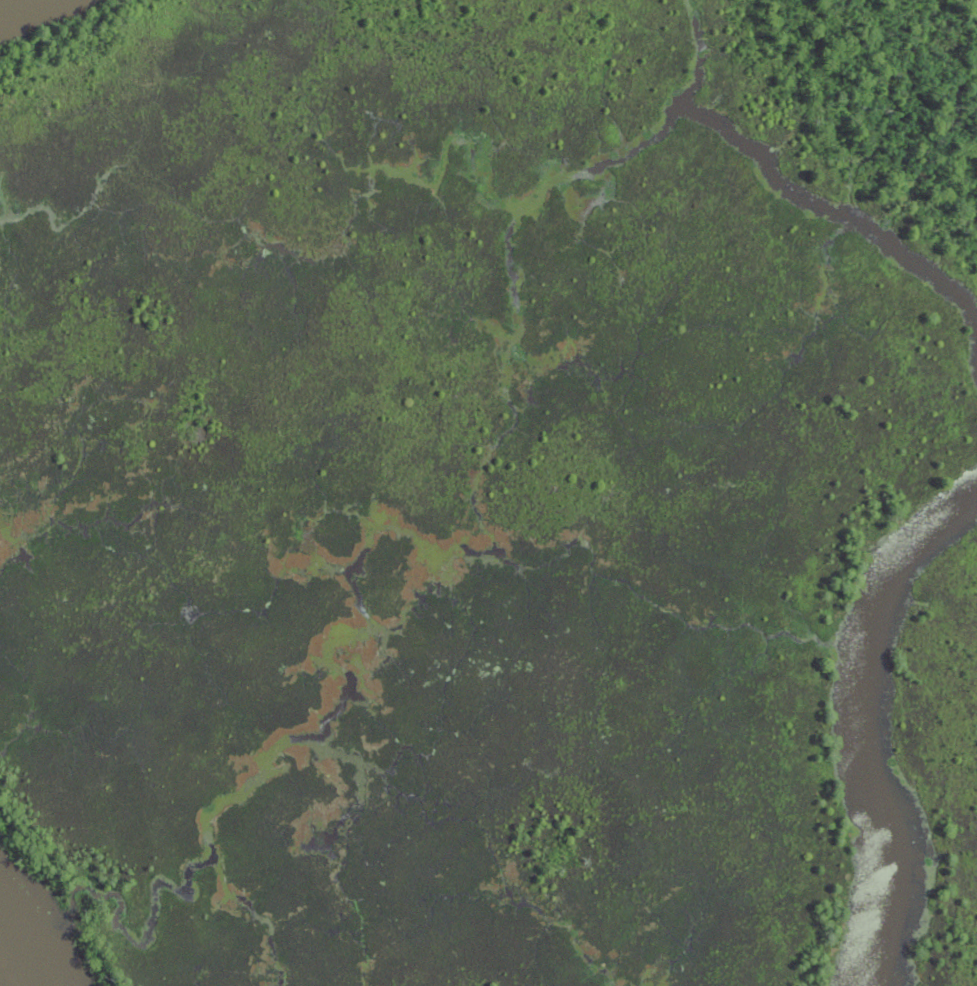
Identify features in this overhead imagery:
river: (26, 10)

